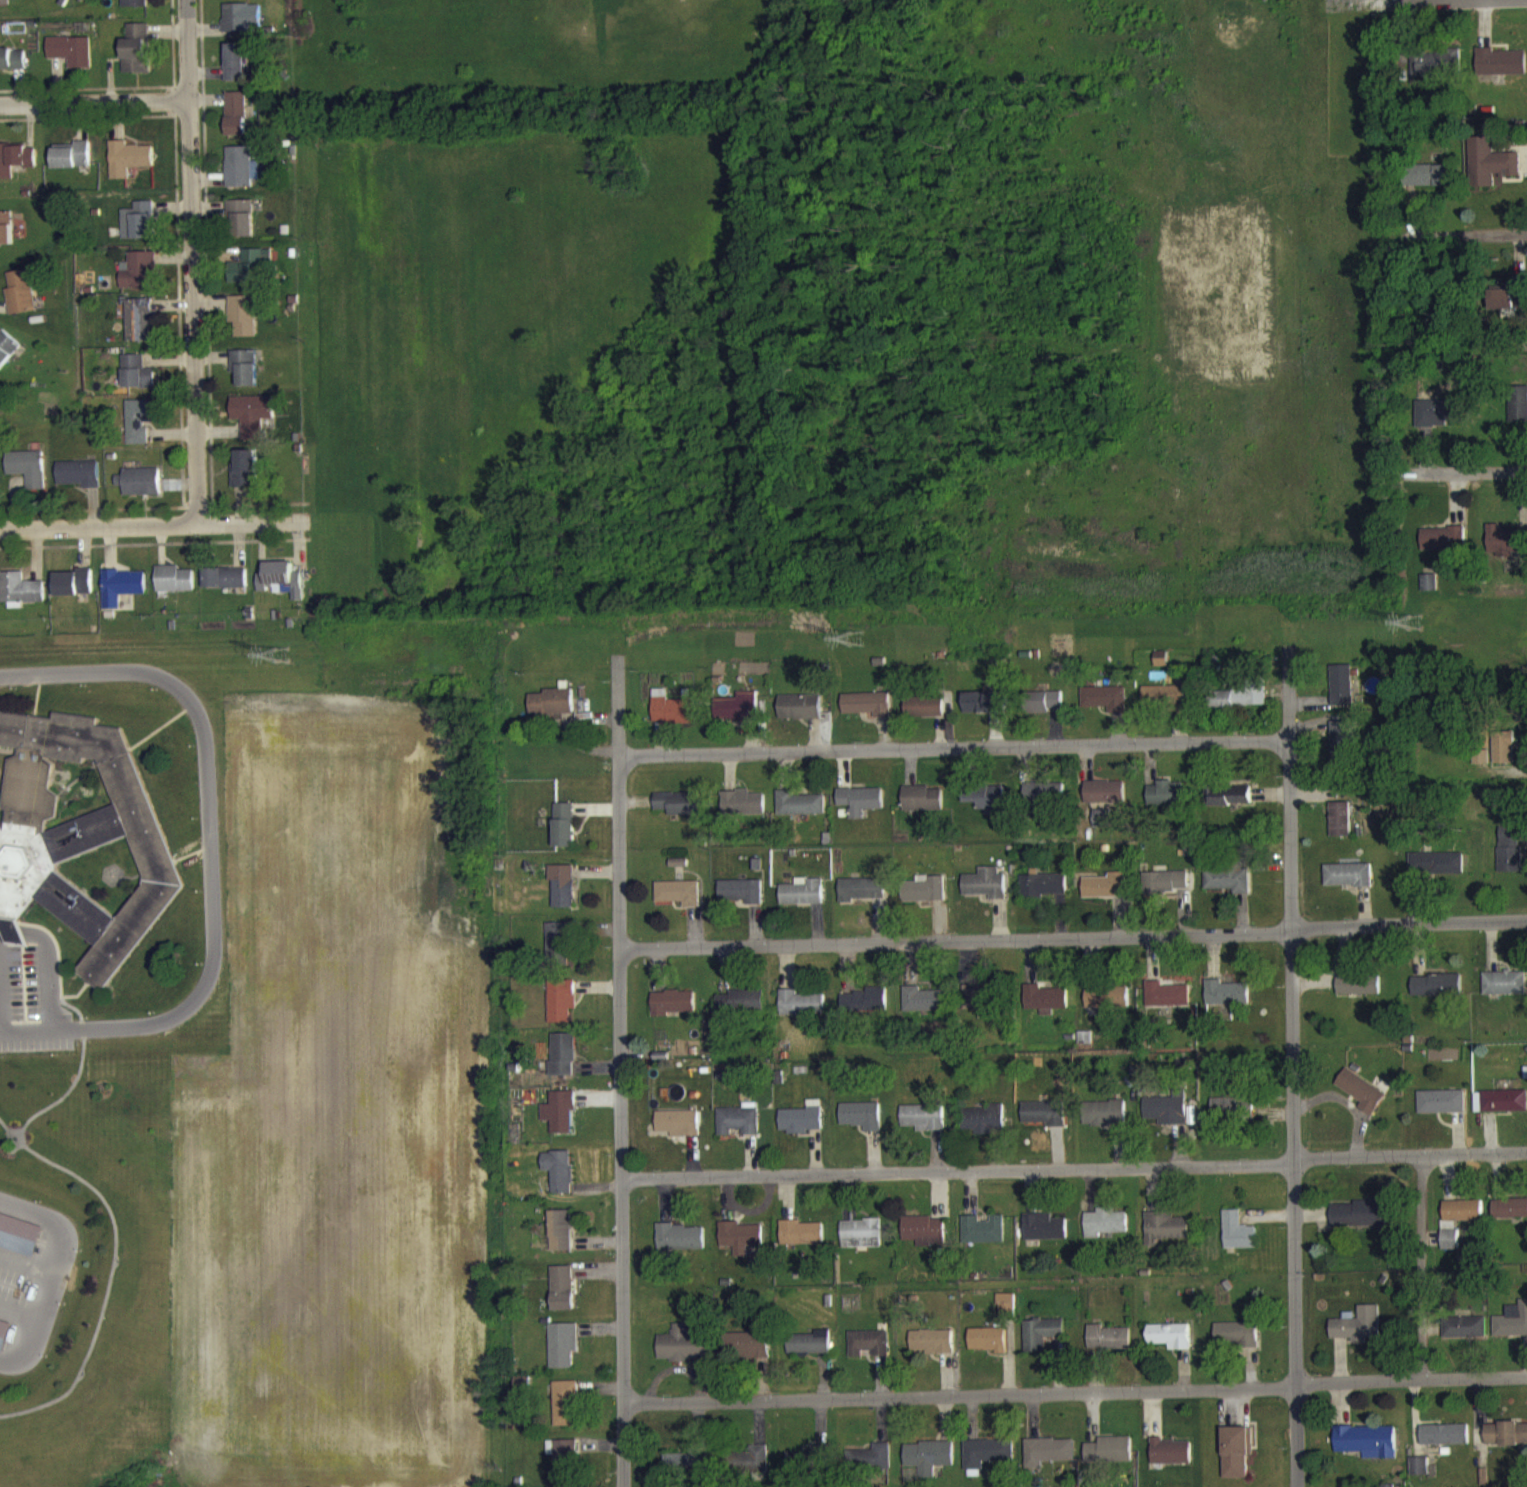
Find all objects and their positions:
building: (8, 6)
building: (135, 8)
building: (242, 27)
building: (137, 58)
building: (71, 60)
building: (12, 67)
building: (236, 71)
building: (1500, 72)
building: (1431, 73)
road: (94, 99)
building: (236, 123)
building: (72, 165)
building: (15, 168)
building: (128, 168)
building: (1490, 173)
building: (238, 176)
building: (1428, 185)
building: (241, 228)
building: (139, 230)
road: (1469, 235)
building: (5, 237)
road: (192, 260)
building: (249, 276)
building: (138, 280)
building: (20, 302)
building: (1508, 307)
building: (242, 325)
building: (138, 330)
building: (7, 357)
building: (245, 376)
building: (135, 380)
building: (1517, 414)
building: (1440, 422)
building: (253, 425)
building: (139, 429)
road: (1465, 471)
building: (27, 477)
building: (245, 479)
building: (78, 483)
building: (141, 491)
road: (149, 523)
building: (1444, 550)
building: (1506, 550)
building: (224, 587)
building: (173, 588)
building: (281, 589)
building: (73, 592)
building: (1429, 592)
building: (120, 596)
building: (20, 599)
power tower: (1413, 616)
power tower: (856, 640)
power tower: (281, 658)
building: (1161, 668)
building: (1342, 694)
building: (1165, 705)
building: (1240, 706)
building: (1104, 707)
building: (551, 711)
building: (985, 711)
building: (1043, 711)
building: (867, 713)
building: (738, 716)
building: (799, 716)
building: (924, 716)
building: (672, 719)
road: (955, 746)
building: (1342, 752)
building: (1503, 757)
building: (1480, 766)
building: (1105, 802)
building: (1043, 803)
building: (1166, 803)
building: (1228, 805)
building: (985, 807)
building: (922, 808)
building: (860, 810)
building: (678, 813)
building: (742, 813)
building: (800, 813)
building: (1341, 829)
building: (563, 834)
building: (78, 840)
building: (1509, 858)
road: (210, 859)
building: (1445, 873)
building: (1348, 884)
building: (1228, 888)
building: (1165, 891)
building: (985, 893)
building: (1042, 894)
building: (562, 895)
building: (1105, 895)
building: (862, 899)
building: (924, 899)
building: (742, 900)
building: (803, 901)
building: (679, 902)
road: (1073, 936)
building: (559, 951)
building: (1504, 993)
building: (1437, 994)
building: (1359, 995)
building: (1226, 1003)
building: (1166, 1004)
building: (979, 1008)
building: (1045, 1008)
building: (1107, 1008)
building: (925, 1009)
building: (561, 1010)
building: (865, 1010)
building: (741, 1011)
building: (673, 1012)
building: (801, 1012)
road: (0, 1030)
building: (563, 1064)
road: (620, 1070)
road: (1293, 1079)
building: (1362, 1101)
building: (1500, 1110)
building: (1442, 1111)
building: (1232, 1116)
building: (1167, 1118)
building: (560, 1122)
building: (1044, 1123)
building: (1104, 1123)
building: (861, 1125)
building: (923, 1127)
building: (801, 1128)
building: (983, 1128)
building: (739, 1129)
building: (678, 1132)
road: (1074, 1167)
building: (559, 1180)
building: (1510, 1218)
building: (1361, 1224)
building: (1458, 1228)
building: (1105, 1231)
building: (1165, 1235)
building: (19, 1236)
building: (1044, 1237)
building: (982, 1239)
building: (561, 1240)
building: (922, 1240)
building: (1237, 1241)
building: (801, 1242)
building: (861, 1243)
building: (740, 1246)
building: (680, 1247)
road: (1423, 1265)
road: (60, 1269)
building: (563, 1297)
building: (1005, 1315)
building: (1511, 1331)
building: (1357, 1334)
building: (4, 1335)
building: (1463, 1337)
building: (1041, 1342)
building: (1235, 1344)
building: (1170, 1345)
building: (1108, 1348)
building: (988, 1349)
building: (932, 1351)
building: (868, 1352)
building: (809, 1353)
building: (563, 1354)
building: (682, 1354)
building: (748, 1355)
road: (1075, 1391)
building: (565, 1413)
building: (1444, 1444)
building: (1505, 1444)
building: (1366, 1451)
building: (1109, 1459)
building: (1236, 1460)
building: (1048, 1461)
building: (1170, 1461)
building: (986, 1463)
building: (818, 1464)
building: (929, 1466)
building: (564, 1467)
building: (871, 1467)
building: (687, 1470)
building: (751, 1470)
building: (1418, 1476)

